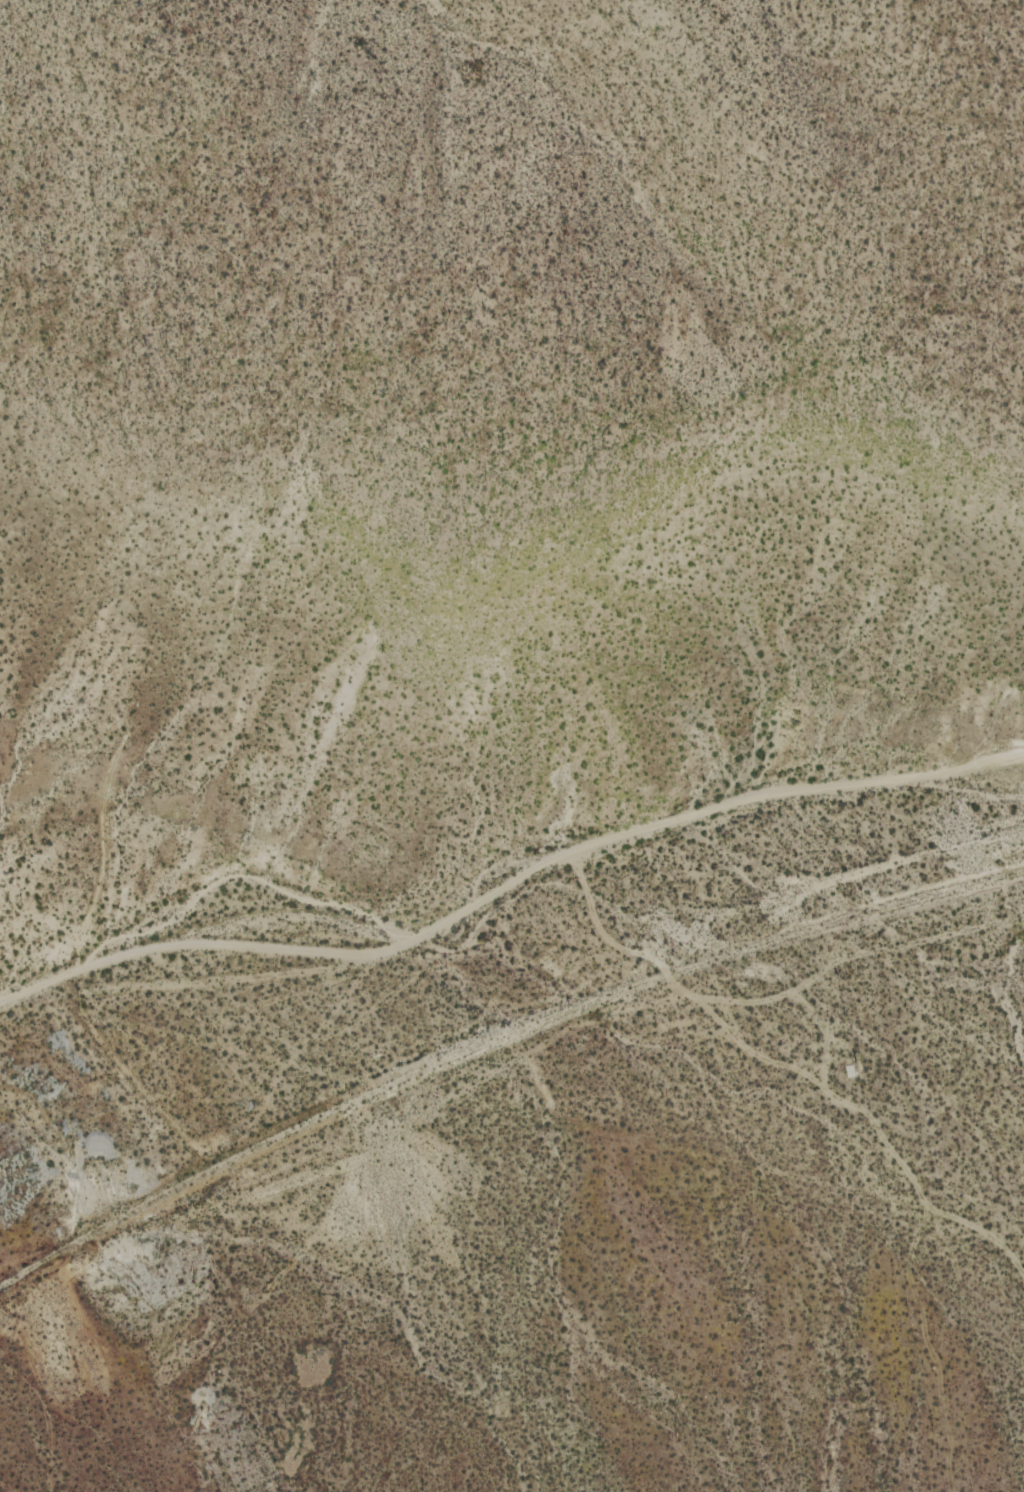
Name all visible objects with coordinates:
road: (508, 886)

